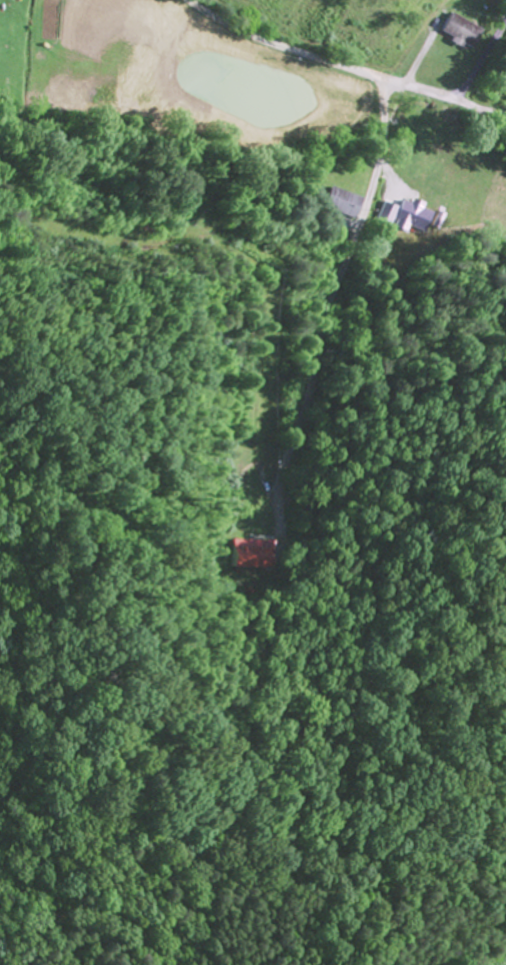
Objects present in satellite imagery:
building: (460, 33)
road: (345, 66)
building: (338, 204)
building: (411, 216)

